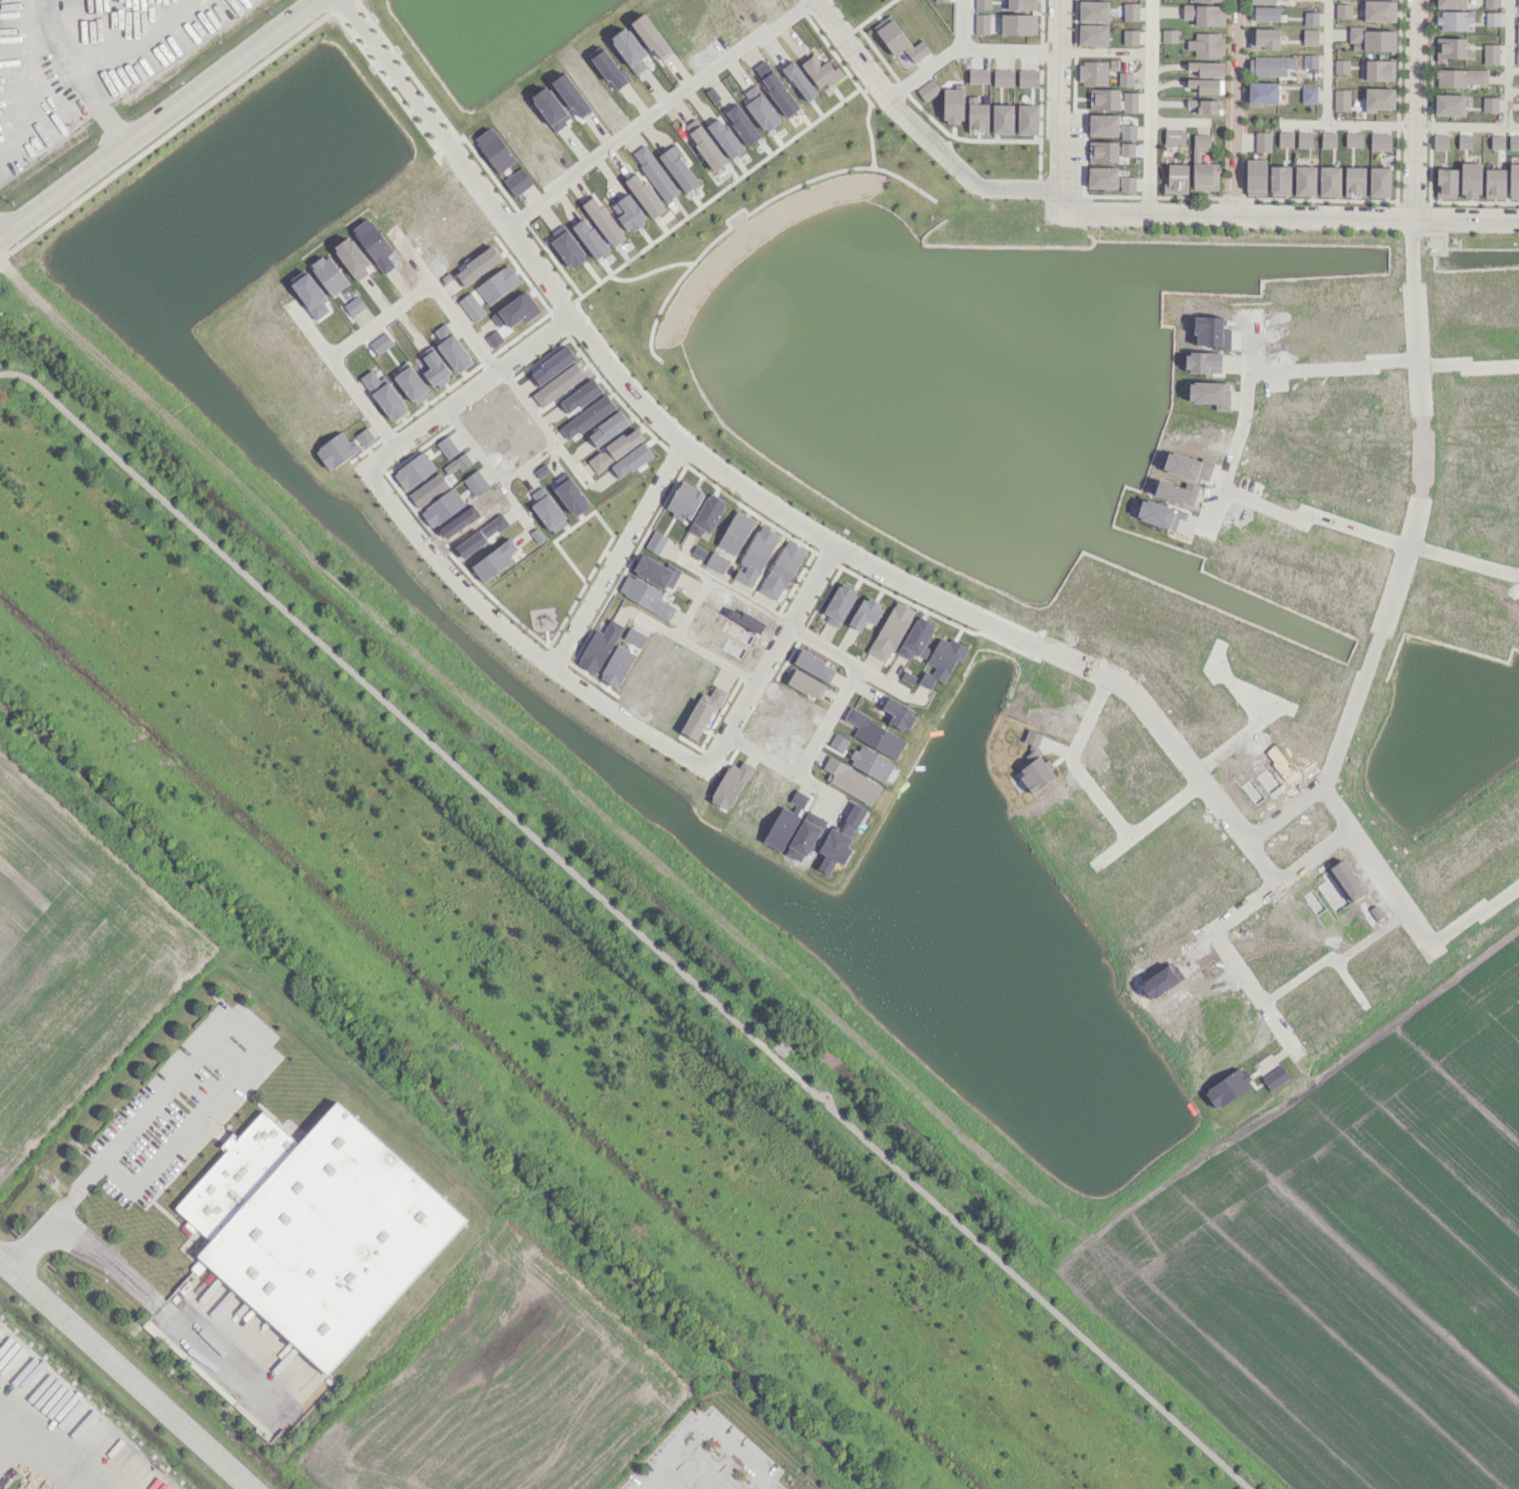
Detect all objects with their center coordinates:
building: (941, 0)
building: (1209, 0)
building: (1262, 1)
building: (1491, 2)
building: (1517, 2)
building: (1450, 3)
building: (983, 4)
building: (1021, 4)
building: (1342, 10)
building: (1379, 10)
building: (1093, 11)
building: (1130, 11)
building: (1264, 13)
building: (1204, 14)
building: (1310, 18)
building: (1492, 18)
building: (1454, 20)
road: (958, 23)
building: (981, 23)
building: (1018, 24)
building: (1517, 33)
building: (1092, 34)
building: (1168, 35)
building: (651, 36)
building: (1130, 36)
building: (1309, 36)
building: (1263, 38)
building: (1374, 38)
building: (900, 41)
building: (1206, 44)
road: (965, 47)
building: (1451, 48)
building: (629, 49)
road: (1103, 50)
building: (1490, 53)
road: (85, 55)
building: (1517, 56)
building: (903, 58)
building: (1310, 60)
road: (1326, 61)
building: (1269, 65)
building: (1341, 66)
building: (1206, 68)
building: (763, 69)
building: (1379, 70)
building: (821, 71)
building: (1092, 72)
building: (978, 75)
building: (1003, 77)
building: (1027, 77)
building: (1460, 77)
building: (1125, 78)
building: (799, 80)
building: (1206, 85)
building: (928, 89)
building: (1262, 92)
building: (779, 93)
road: (1058, 93)
building: (1308, 94)
building: (1104, 98)
building: (1341, 99)
building: (1379, 99)
building: (1129, 101)
building: (1489, 103)
building: (1449, 104)
building: (953, 105)
building: (1203, 105)
road: (1149, 106)
road: (1235, 106)
building: (760, 108)
road: (1506, 109)
road: (652, 113)
building: (977, 116)
road: (158, 118)
building: (1002, 118)
building: (1027, 118)
road: (1177, 120)
road: (1347, 123)
building: (742, 124)
building: (1103, 124)
road: (1512, 125)
road: (918, 128)
road: (173, 129)
building: (1127, 131)
building: (1173, 136)
building: (724, 137)
building: (1285, 139)
building: (1304, 139)
building: (1328, 139)
building: (1353, 139)
building: (1262, 141)
building: (1379, 141)
building: (1439, 141)
building: (1464, 141)
building: (1497, 142)
building: (1516, 142)
building: (707, 147)
building: (494, 149)
building: (1126, 149)
building: (1102, 151)
building: (1203, 165)
building: (678, 167)
building: (655, 172)
building: (1255, 176)
building: (1102, 177)
building: (1176, 179)
building: (1470, 179)
building: (1279, 180)
building: (1304, 180)
building: (517, 181)
building: (1329, 181)
building: (1354, 181)
building: (1379, 181)
building: (1513, 181)
building: (1446, 182)
building: (1127, 183)
building: (1494, 183)
building: (644, 195)
road: (1059, 196)
road: (1148, 212)
building: (628, 213)
road: (1376, 216)
building: (603, 220)
building: (589, 237)
building: (374, 244)
building: (568, 249)
road: (407, 257)
building: (329, 274)
road: (419, 287)
building: (354, 306)
building: (451, 347)
building: (552, 365)
road: (1333, 365)
road: (1468, 365)
building: (434, 367)
road: (338, 375)
building: (412, 384)
road: (464, 389)
building: (384, 394)
road: (1241, 427)
road: (545, 430)
building: (364, 436)
road: (1422, 447)
building: (615, 449)
building: (336, 450)
road: (480, 457)
building: (631, 460)
road: (569, 461)
building: (571, 496)
road: (759, 500)
building: (684, 501)
building: (547, 509)
road: (1314, 514)
building: (707, 516)
building: (735, 532)
building: (656, 542)
road: (614, 555)
building: (755, 555)
building: (494, 560)
road: (1463, 560)
building: (717, 562)
building: (781, 570)
building: (656, 571)
building: (645, 596)
building: (839, 603)
road: (692, 606)
building: (865, 613)
building: (890, 631)
building: (916, 638)
road: (515, 641)
building: (598, 647)
road: (820, 647)
road: (767, 655)
building: (942, 660)
road: (878, 679)
building: (806, 684)
road: (1237, 686)
building: (703, 711)
building: (899, 714)
road: (826, 721)
building: (875, 734)
road: (1234, 739)
building: (838, 742)
road: (1071, 762)
building: (871, 763)
road: (779, 766)
building: (851, 780)
road: (1149, 820)
building: (786, 821)
road: (1376, 866)
road: (1474, 912)
road: (1221, 921)
road: (625, 924)
road: (1334, 962)
road: (1349, 983)
road: (207, 1043)
building: (316, 1229)
road: (150, 1299)
road: (126, 1373)
road: (705, 1433)

